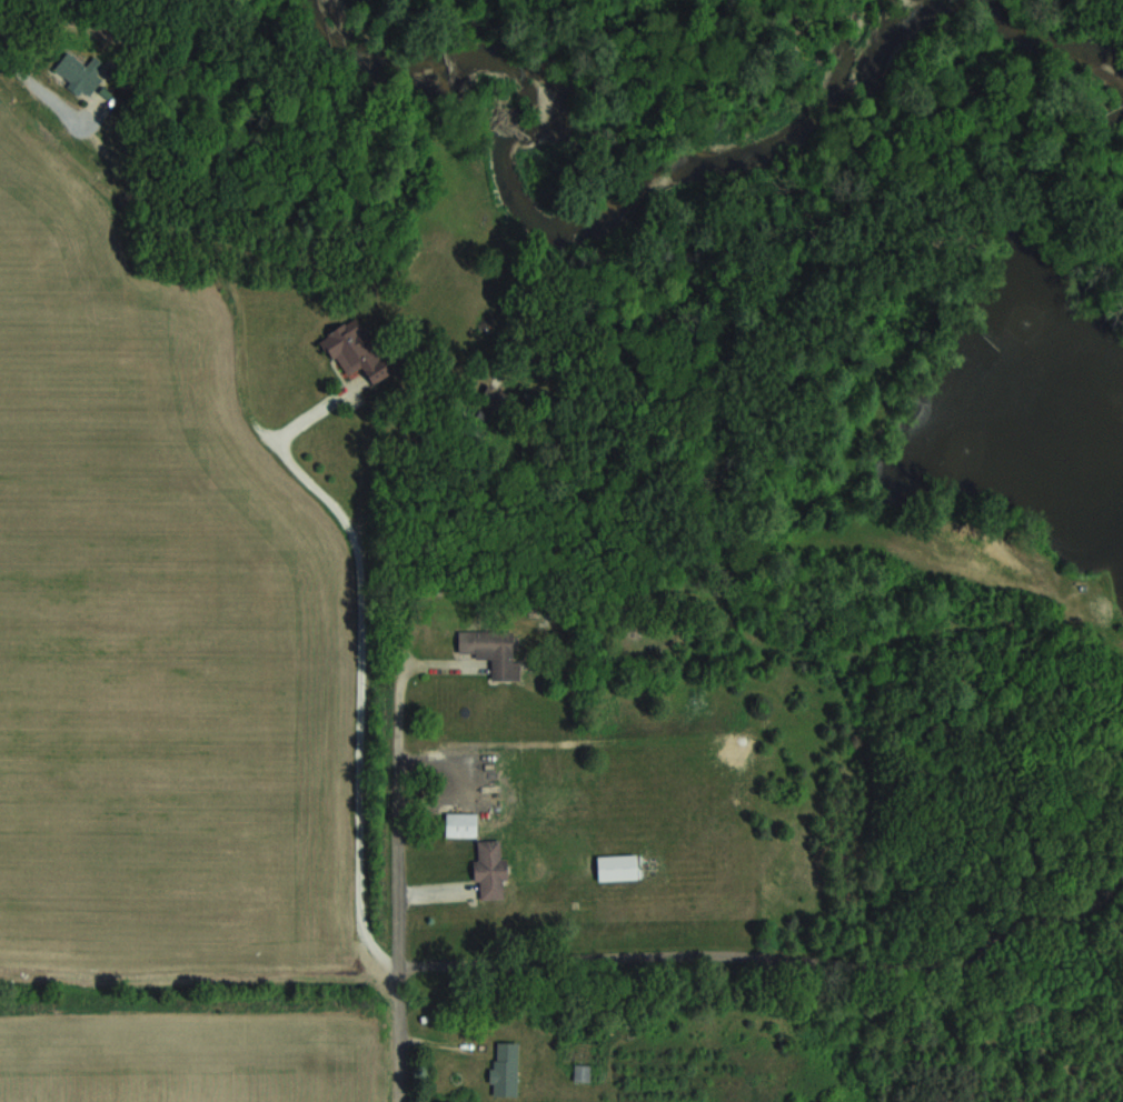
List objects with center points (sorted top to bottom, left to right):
building: (76, 71)
river: (642, 177)
building: (350, 351)
road: (337, 513)
building: (493, 651)
building: (460, 823)
building: (616, 866)
building: (489, 869)
road: (394, 883)
road: (771, 960)
crop: (190, 1061)
building: (504, 1068)
building: (582, 1072)

